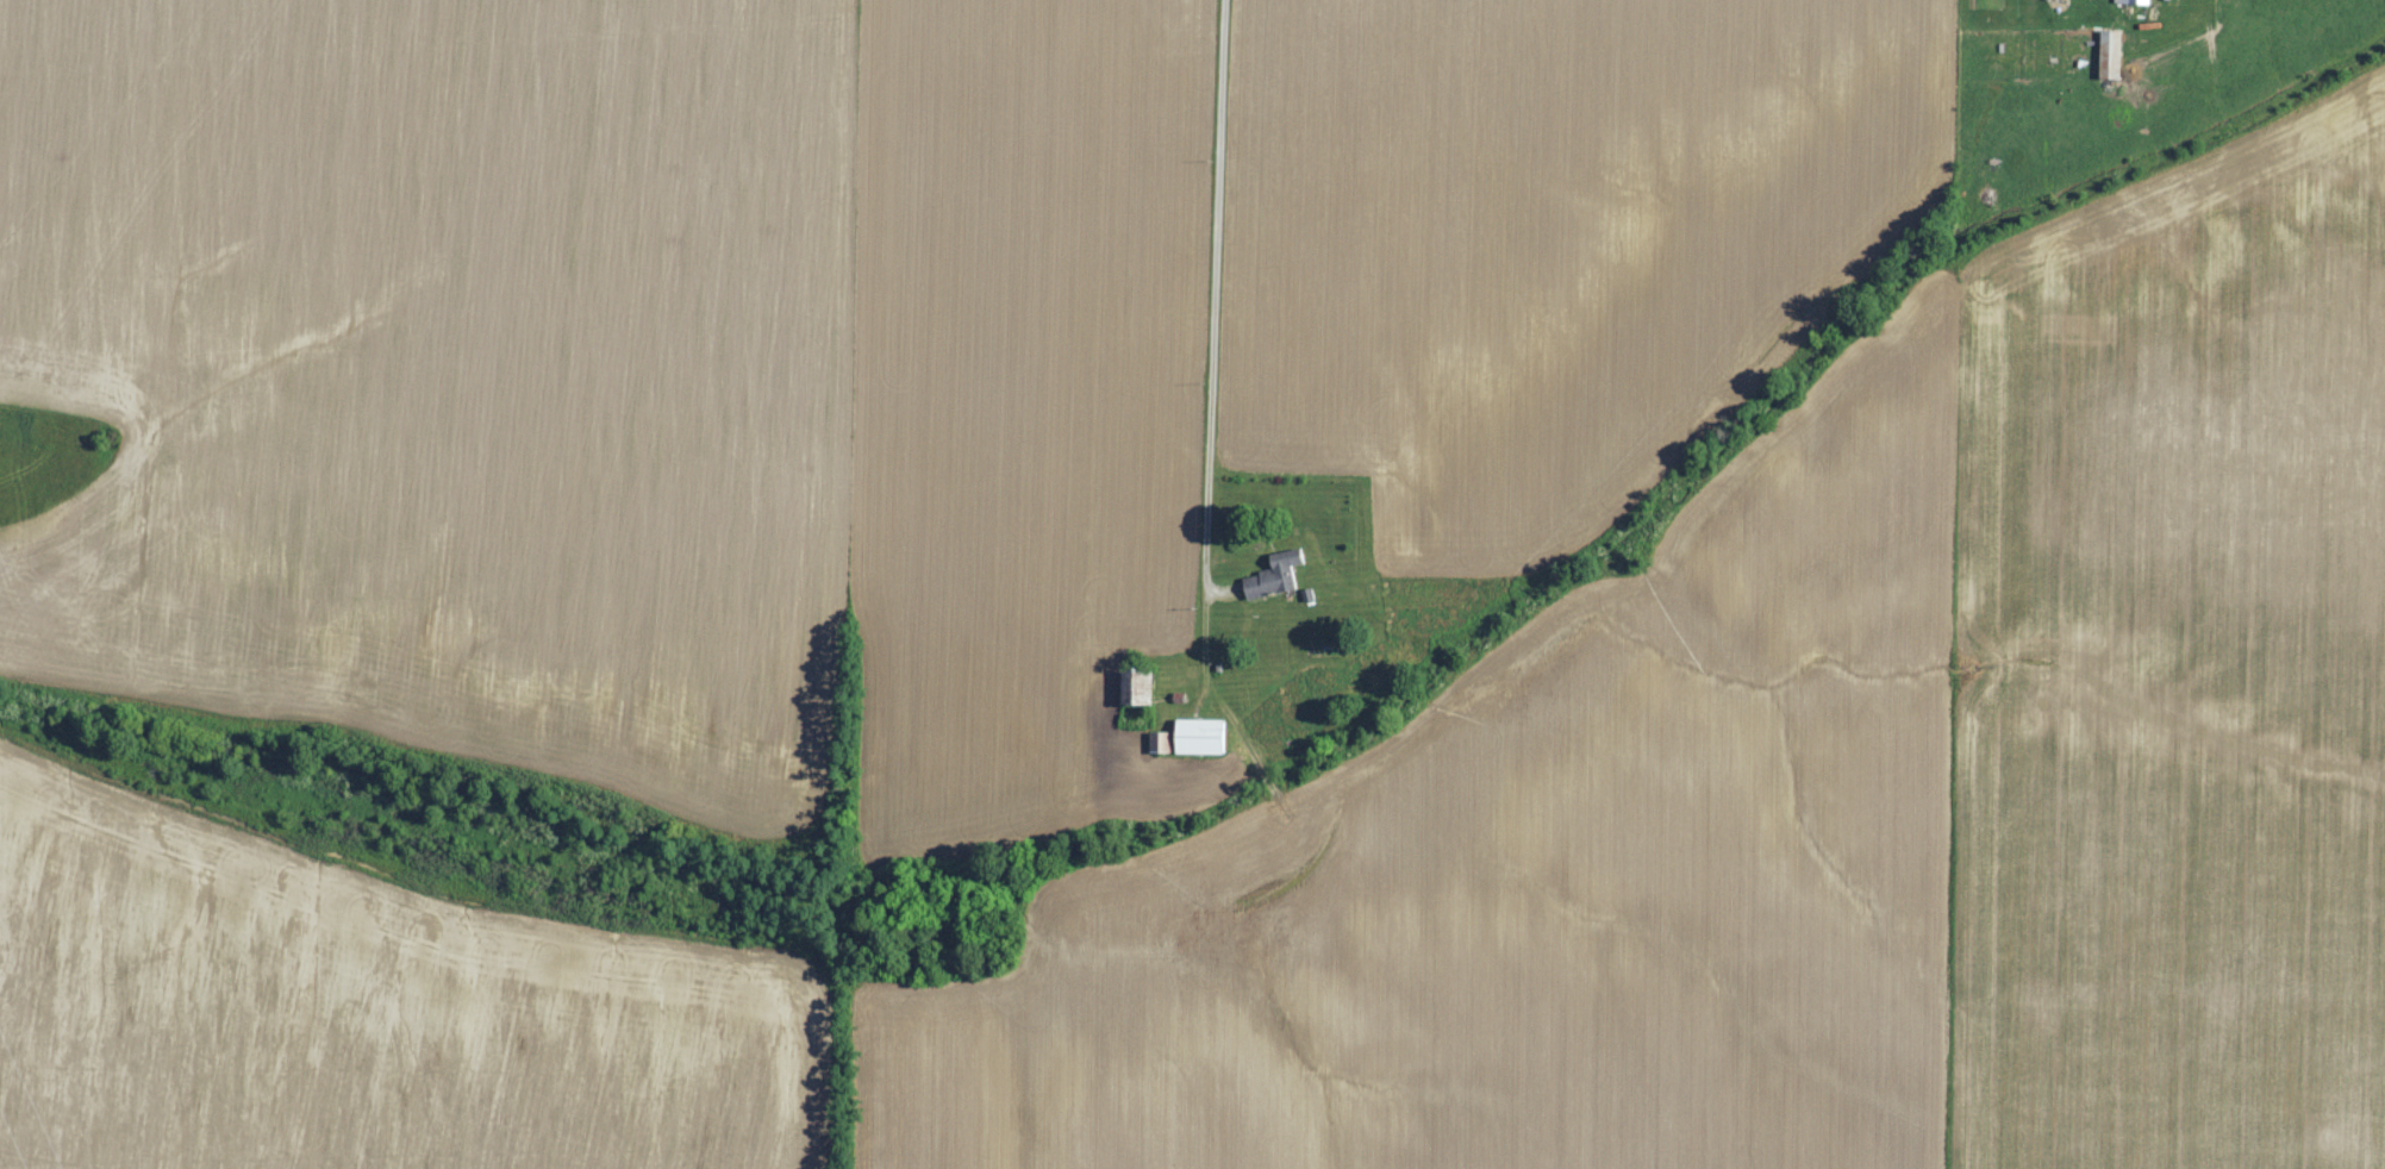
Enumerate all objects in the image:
building: (2134, 1)
building: (2112, 43)
road: (1215, 346)
building: (1267, 581)
building: (1201, 736)
building: (1162, 742)

